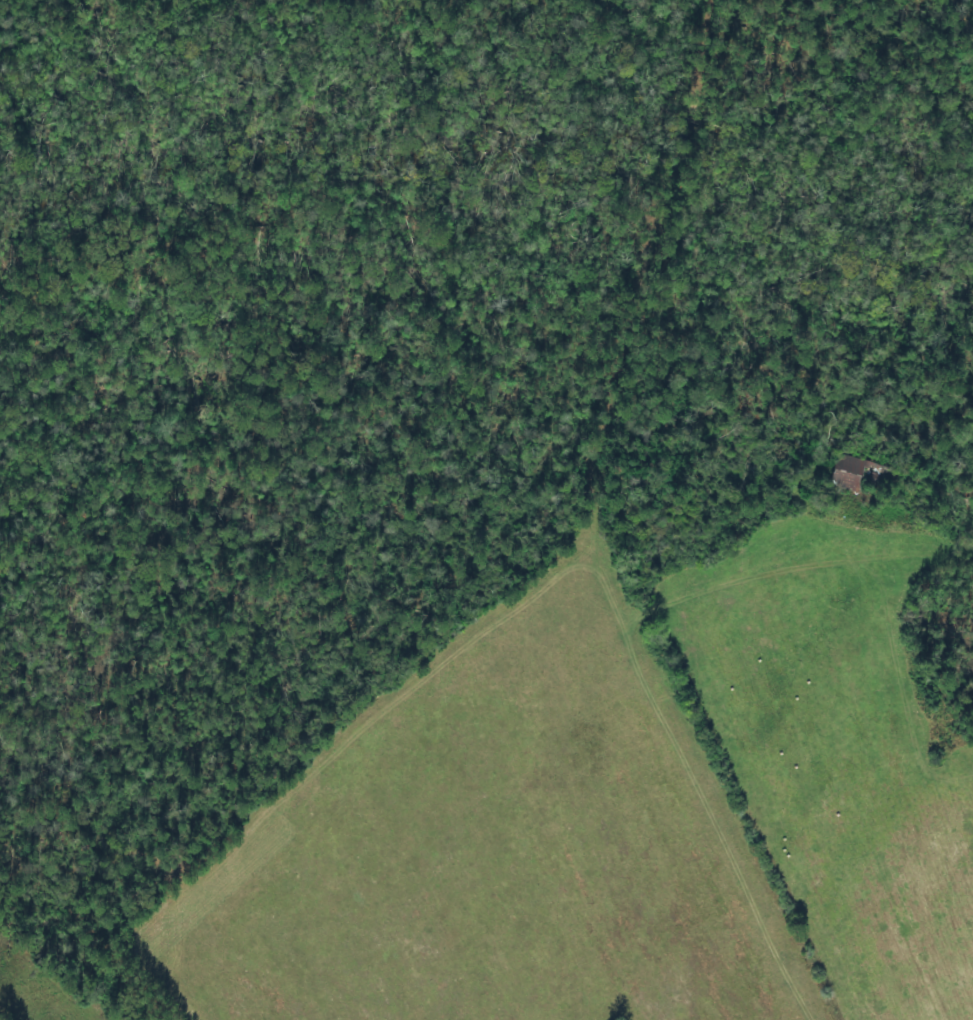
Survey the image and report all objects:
building: (849, 470)
road: (643, 772)

